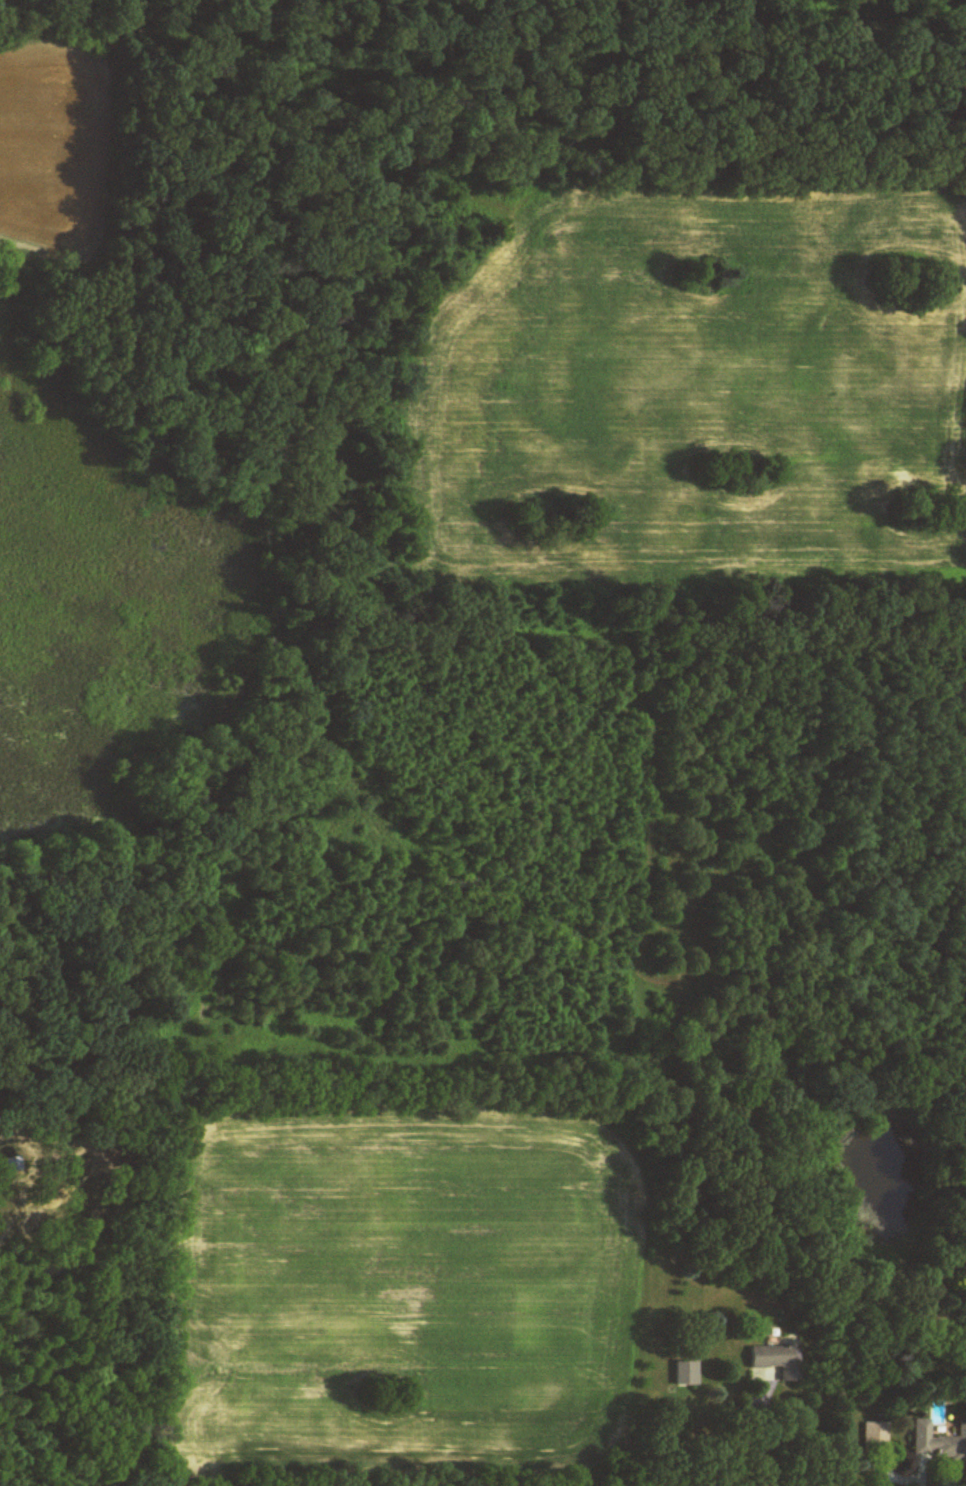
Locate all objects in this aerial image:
crop: (694, 394)
building: (778, 1362)
building: (876, 1439)
road: (762, 1440)
building: (938, 1444)

